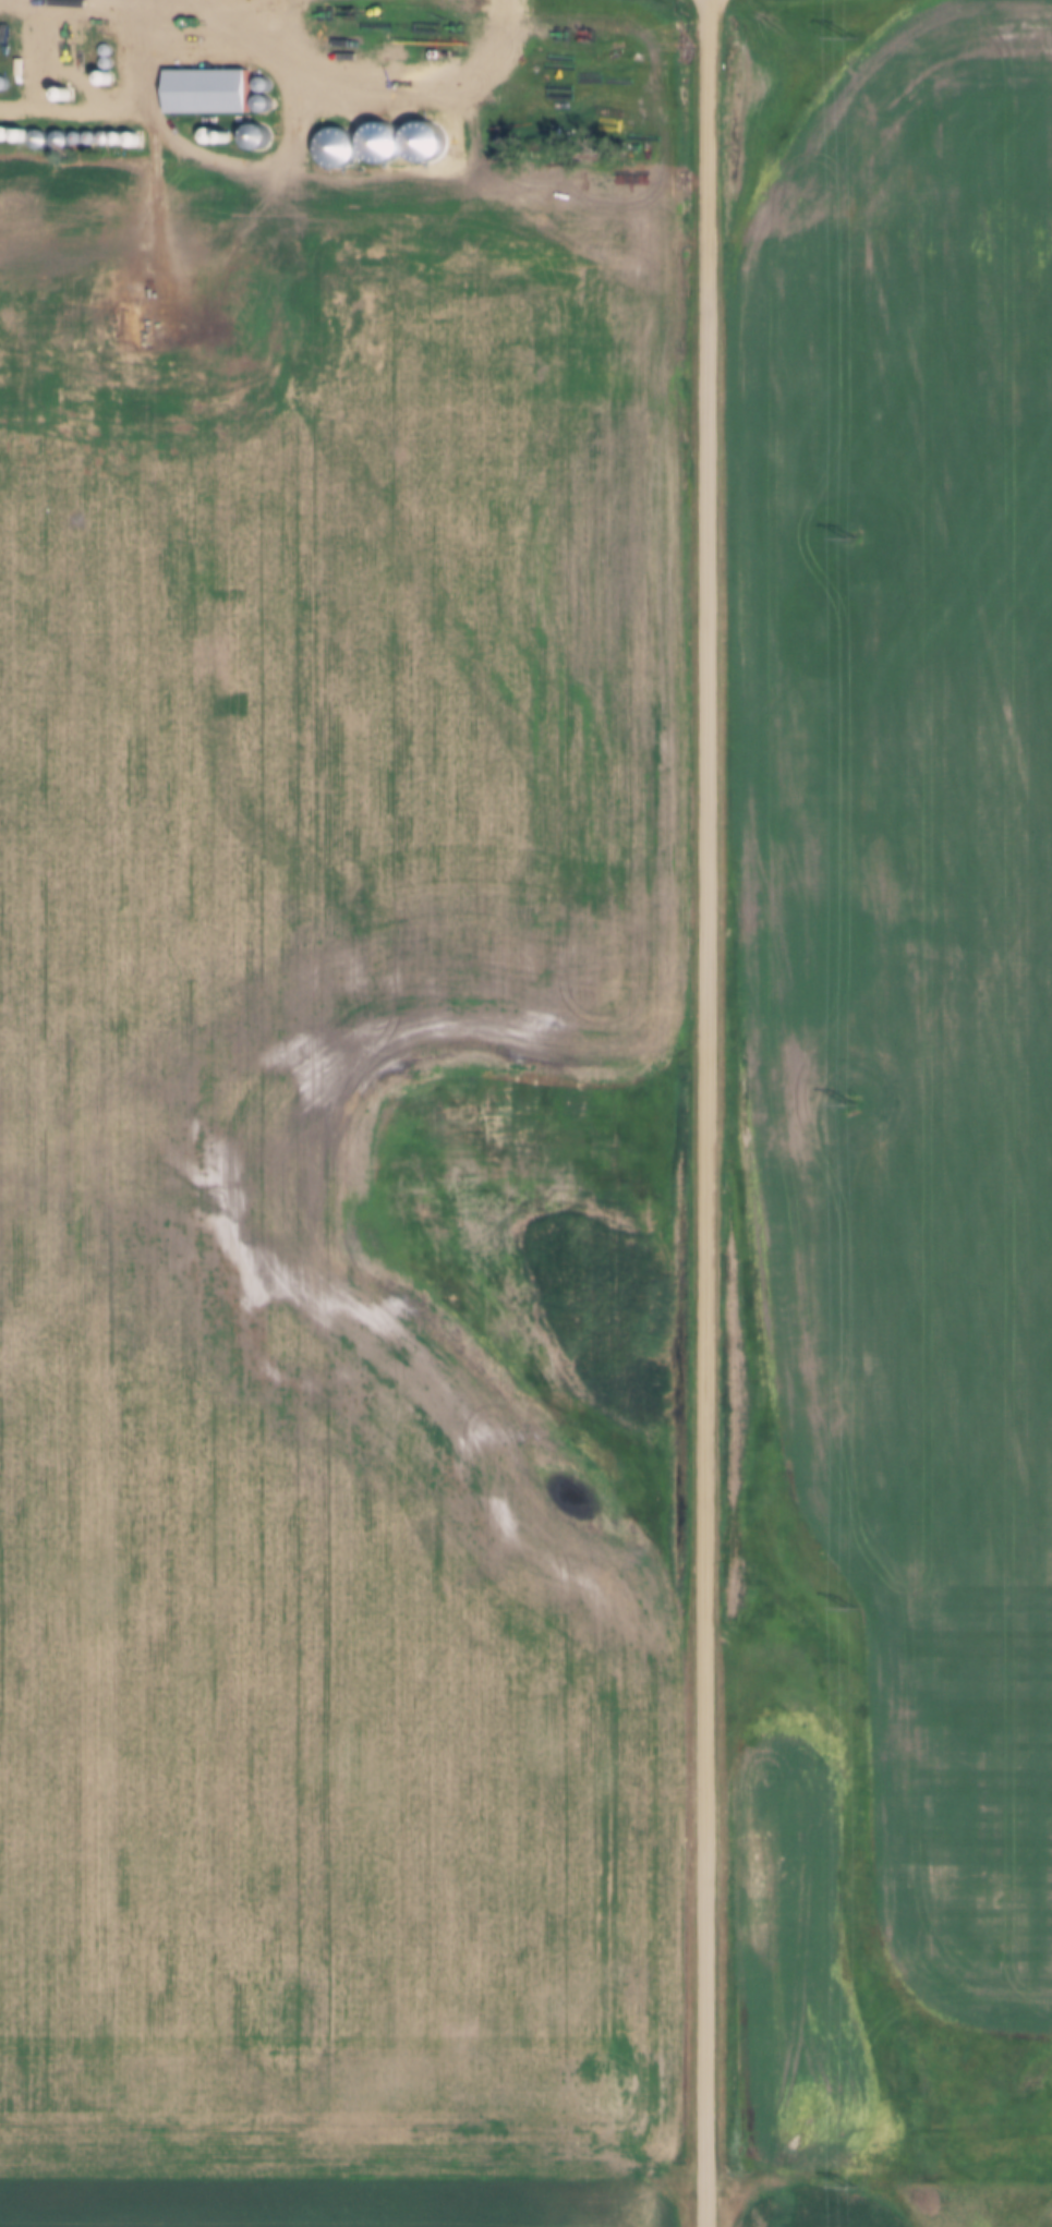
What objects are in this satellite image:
building: (208, 92)
building: (529, 119)
road: (705, 1113)

